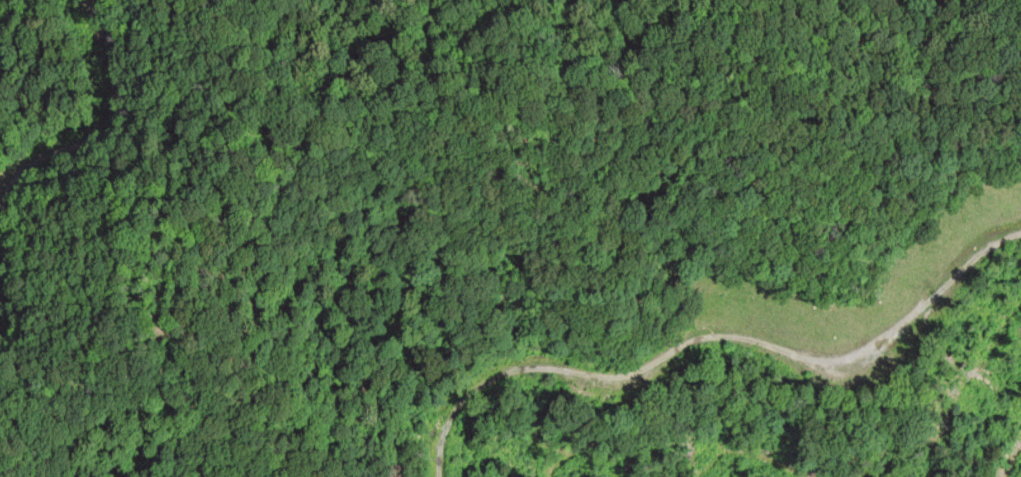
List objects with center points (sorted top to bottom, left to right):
road: (99, 119)
road: (712, 339)

